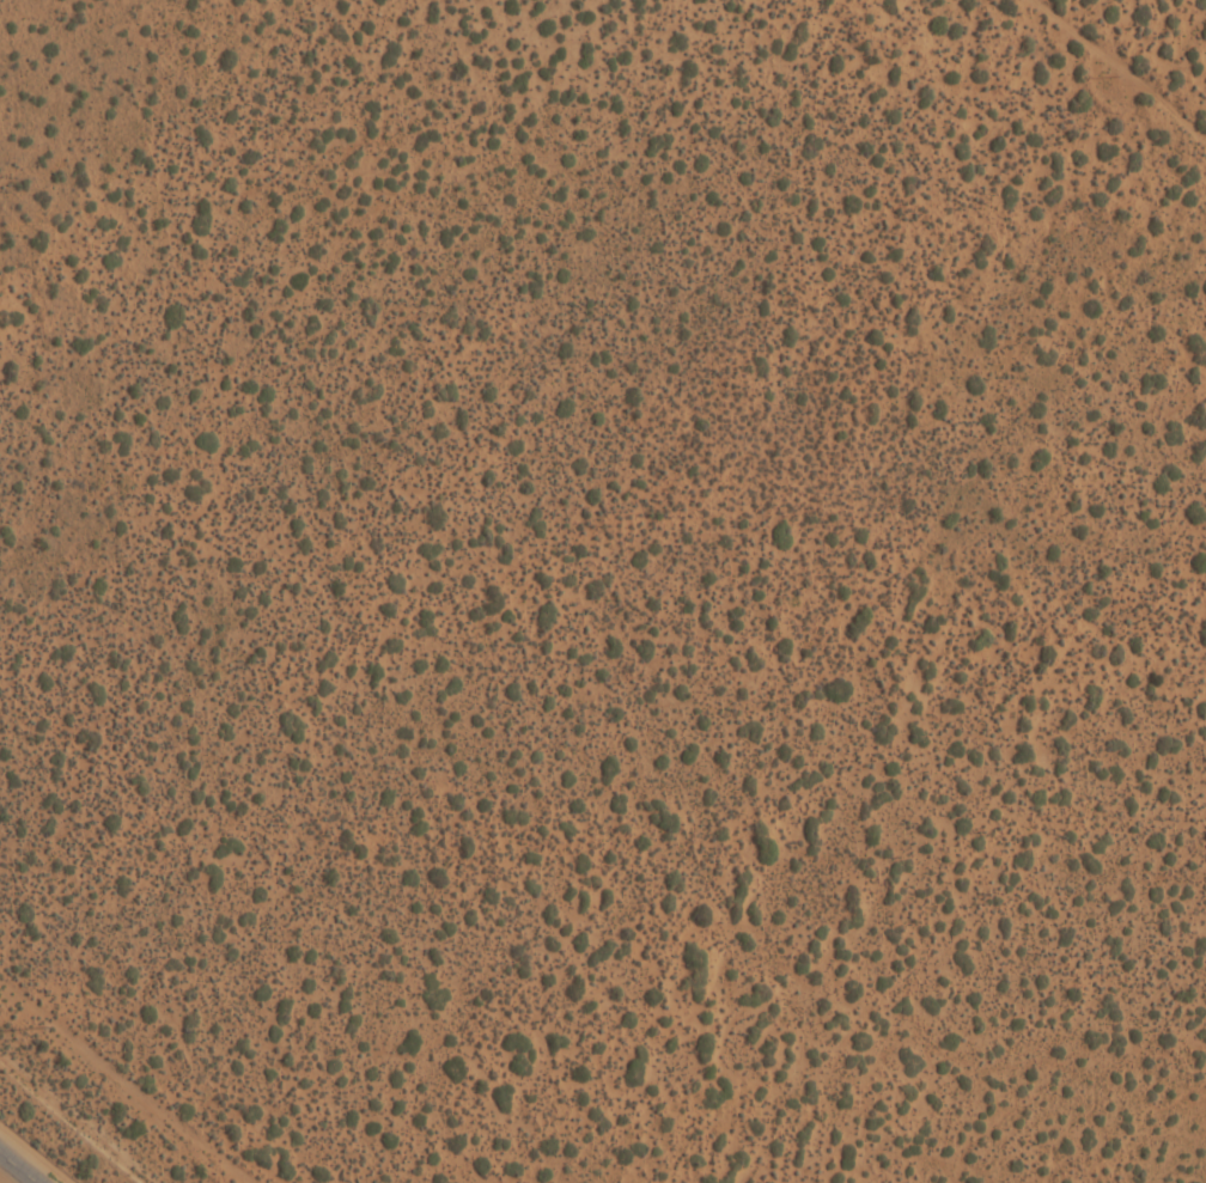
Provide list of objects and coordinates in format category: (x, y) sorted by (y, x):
road: (20, 1165)

